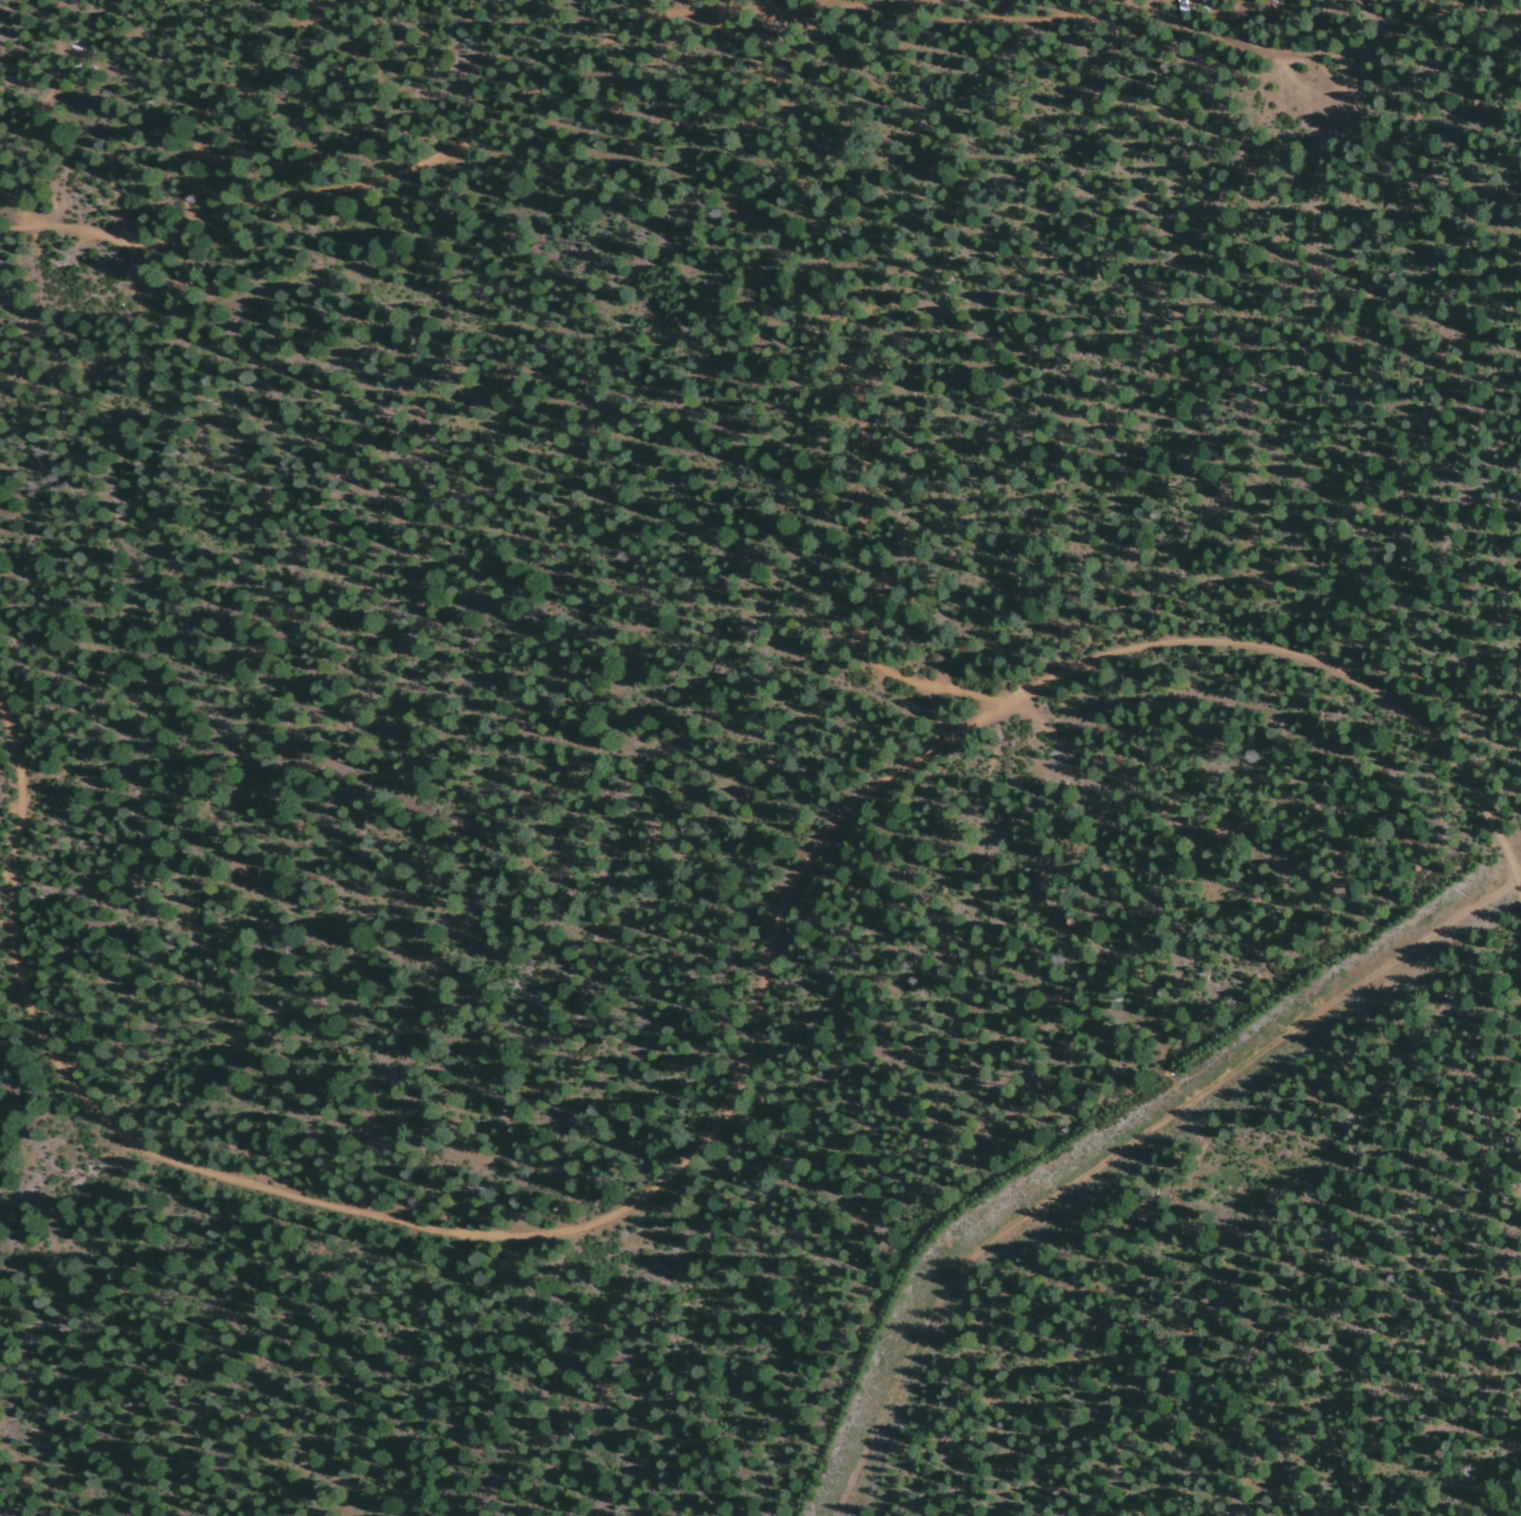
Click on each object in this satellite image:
road: (1243, 44)
road: (444, 158)
road: (1288, 221)
road: (726, 1107)
road: (1126, 1149)

